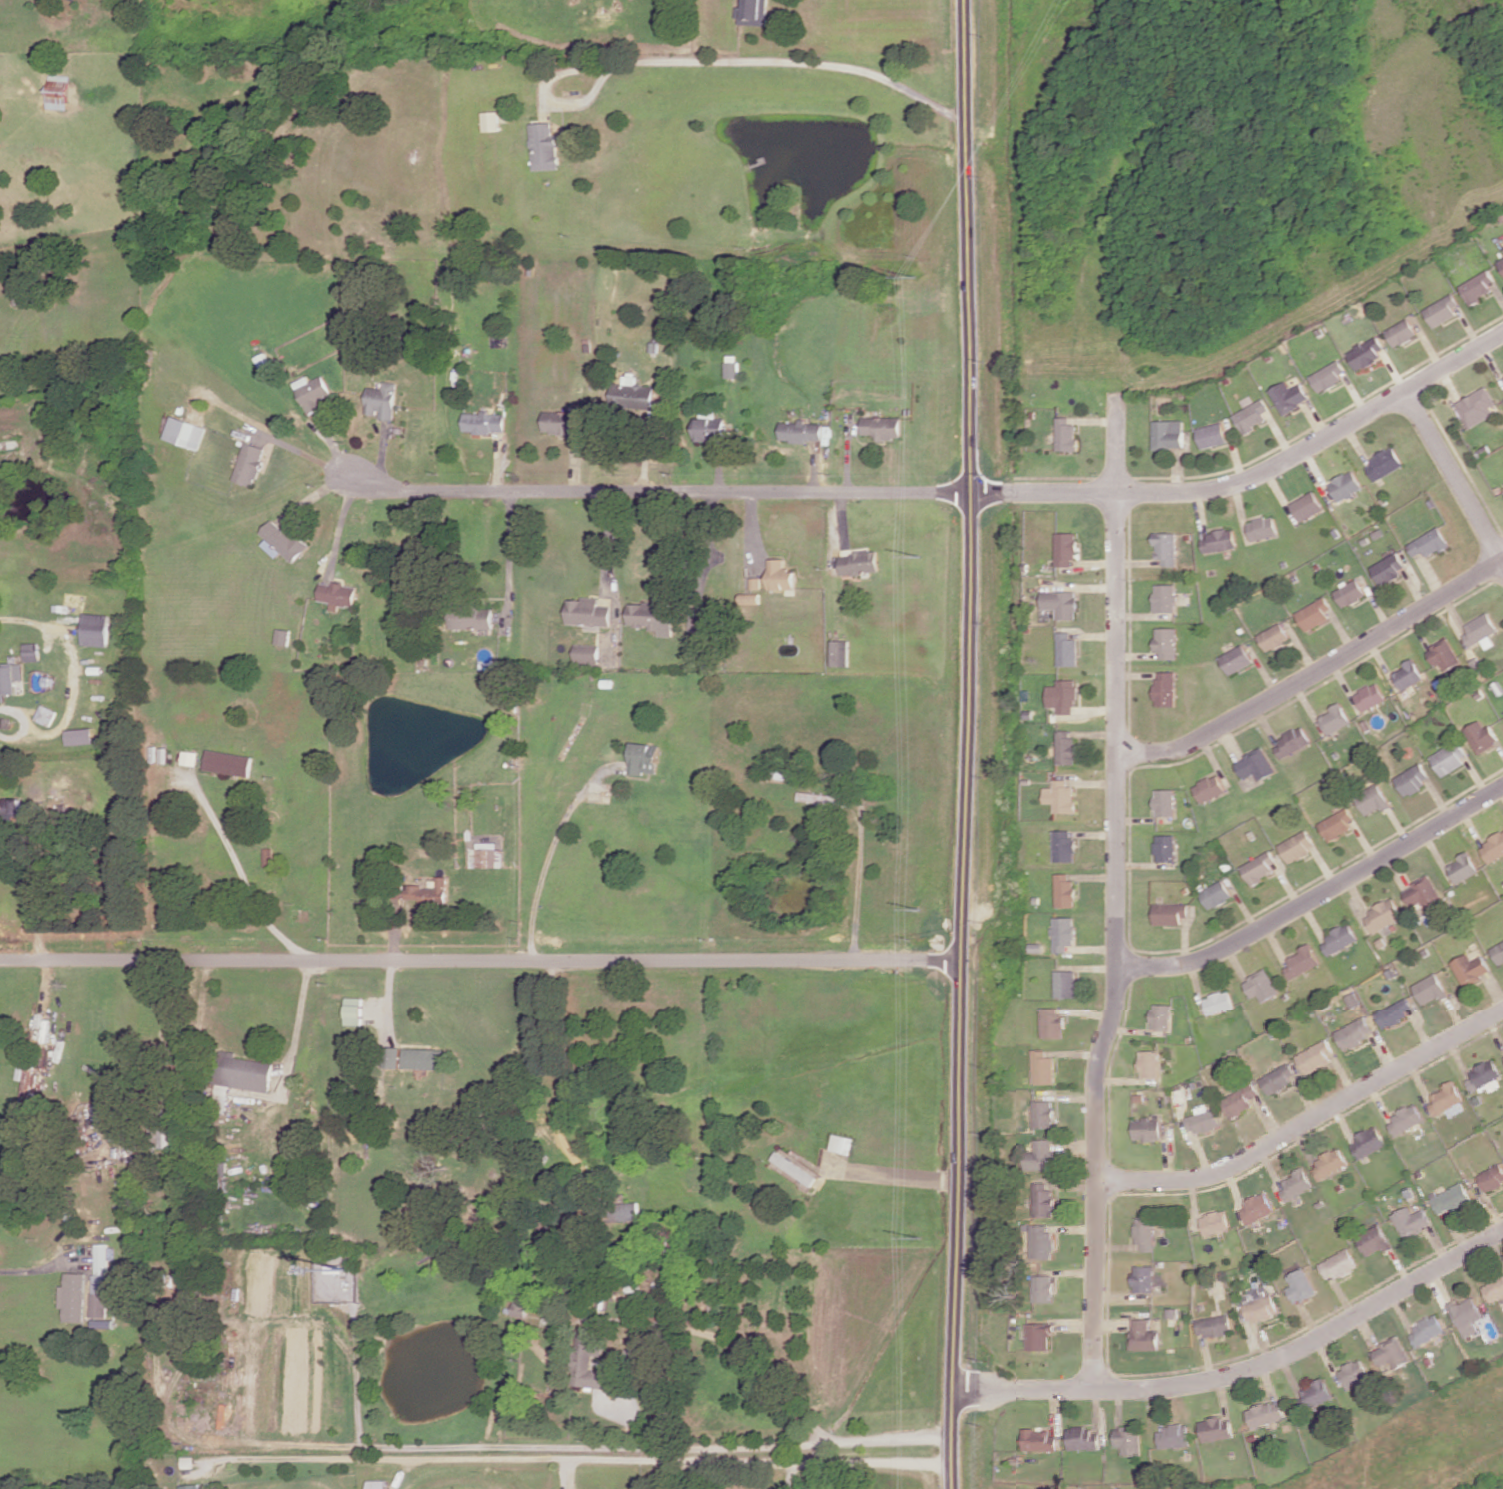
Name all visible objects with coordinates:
building: (755, 11)
road: (762, 59)
building: (57, 91)
building: (490, 121)
building: (543, 146)
building: (1501, 263)
power tower: (919, 272)
building: (1477, 287)
building: (1441, 310)
building: (1401, 332)
building: (1365, 353)
building: (731, 369)
building: (1328, 375)
building: (312, 392)
building: (631, 395)
building: (1289, 396)
building: (381, 401)
building: (1477, 407)
building: (1252, 416)
building: (561, 421)
building: (484, 422)
building: (881, 427)
building: (709, 428)
building: (800, 431)
building: (186, 432)
building: (1170, 434)
building: (1065, 435)
building: (1213, 435)
building: (249, 463)
building: (1382, 464)
road: (1453, 476)
road: (1253, 477)
building: (1343, 485)
road: (657, 492)
building: (1306, 506)
road: (341, 518)
building: (1263, 528)
building: (1220, 540)
building: (281, 541)
road: (606, 542)
building: (1428, 543)
building: (1168, 547)
road: (708, 549)
building: (1065, 549)
power tower: (922, 553)
road: (505, 559)
building: (858, 562)
building: (1386, 569)
building: (780, 575)
building: (754, 582)
building: (1347, 593)
building: (337, 594)
building: (1166, 597)
building: (749, 598)
building: (1061, 603)
building: (587, 612)
building: (1312, 614)
building: (470, 618)
building: (649, 618)
building: (695, 620)
building: (93, 629)
building: (1480, 630)
building: (282, 636)
building: (1272, 636)
building: (1167, 642)
building: (1067, 649)
building: (29, 652)
building: (840, 653)
building: (586, 654)
building: (1443, 656)
building: (1235, 659)
road: (1316, 672)
building: (1405, 674)
building: (8, 678)
road: (74, 683)
building: (1166, 688)
building: (1063, 696)
building: (1365, 696)
building: (44, 715)
building: (1330, 719)
building: (78, 736)
building: (1480, 736)
building: (1288, 742)
road: (963, 744)
building: (1067, 748)
building: (644, 758)
building: (1447, 758)
building: (228, 763)
building: (1253, 765)
building: (1409, 779)
building: (1209, 788)
building: (1061, 795)
building: (821, 799)
building: (1369, 800)
building: (1165, 802)
building: (1333, 824)
building: (1066, 846)
building: (1294, 846)
building: (1165, 847)
building: (1491, 847)
road: (547, 848)
building: (485, 856)
building: (1458, 867)
building: (1257, 868)
road: (242, 873)
road: (855, 884)
building: (1067, 891)
road: (1118, 894)
building: (1215, 894)
road: (1316, 894)
building: (1417, 894)
road: (32, 900)
power tower: (920, 909)
building: (1170, 913)
building: (1378, 915)
building: (1066, 933)
building: (1335, 939)
building: (1496, 952)
building: (1299, 960)
road: (480, 961)
building: (1467, 968)
building: (1068, 984)
building: (1260, 985)
building: (1427, 989)
building: (1351, 1001)
building: (1219, 1003)
building: (354, 1011)
building: (1393, 1014)
building: (1163, 1017)
building: (1055, 1024)
road: (298, 1029)
building: (1355, 1034)
building: (1502, 1053)
building: (394, 1057)
building: (1319, 1057)
building: (423, 1058)
road: (554, 1065)
building: (1149, 1065)
building: (1046, 1069)
building: (245, 1072)
building: (1484, 1078)
building: (1282, 1080)
building: (1241, 1102)
building: (1447, 1103)
building: (1045, 1115)
building: (1203, 1121)
building: (1406, 1121)
road: (1308, 1124)
building: (1146, 1130)
building: (840, 1143)
building: (1370, 1143)
building: (1042, 1157)
building: (1331, 1165)
building: (794, 1167)
road: (903, 1173)
building: (1492, 1179)
building: (1296, 1186)
building: (1044, 1200)
building: (1453, 1201)
building: (1256, 1209)
building: (624, 1211)
building: (1412, 1223)
building: (1213, 1224)
building: (1143, 1234)
power tower: (925, 1237)
building: (1376, 1242)
building: (1043, 1244)
building: (1340, 1266)
road: (42, 1267)
building: (100, 1280)
building: (1143, 1280)
building: (1301, 1287)
building: (1046, 1290)
building: (1494, 1291)
building: (73, 1297)
building: (1259, 1306)
building: (520, 1307)
building: (1468, 1318)
building: (1214, 1327)
building: (1427, 1332)
building: (1041, 1337)
building: (1145, 1337)
road: (719, 1338)
building: (1392, 1355)
road: (1249, 1371)
building: (1354, 1374)
building: (1317, 1395)
building: (1265, 1415)
building: (1216, 1430)
building: (1173, 1438)
building: (1082, 1440)
building: (1040, 1442)
building: (1127, 1442)
road: (599, 1446)
road: (589, 1457)
building: (375, 1484)
building: (190, 1486)

